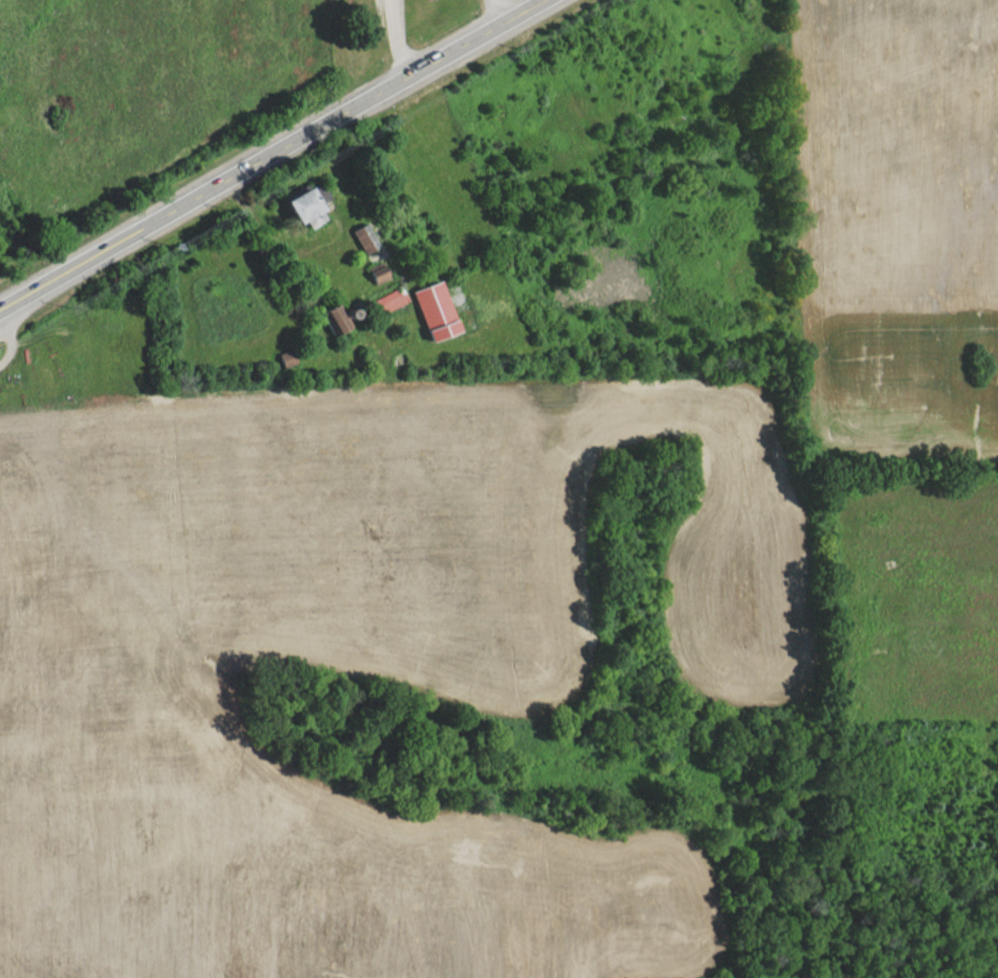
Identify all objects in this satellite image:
road: (498, 6)
road: (404, 33)
crop: (130, 77)
road: (262, 149)
building: (307, 204)
crop: (899, 229)
building: (364, 237)
building: (378, 272)
building: (390, 299)
building: (435, 311)
building: (334, 319)
road: (6, 330)
building: (285, 358)
crop: (344, 661)
road: (577, 906)

